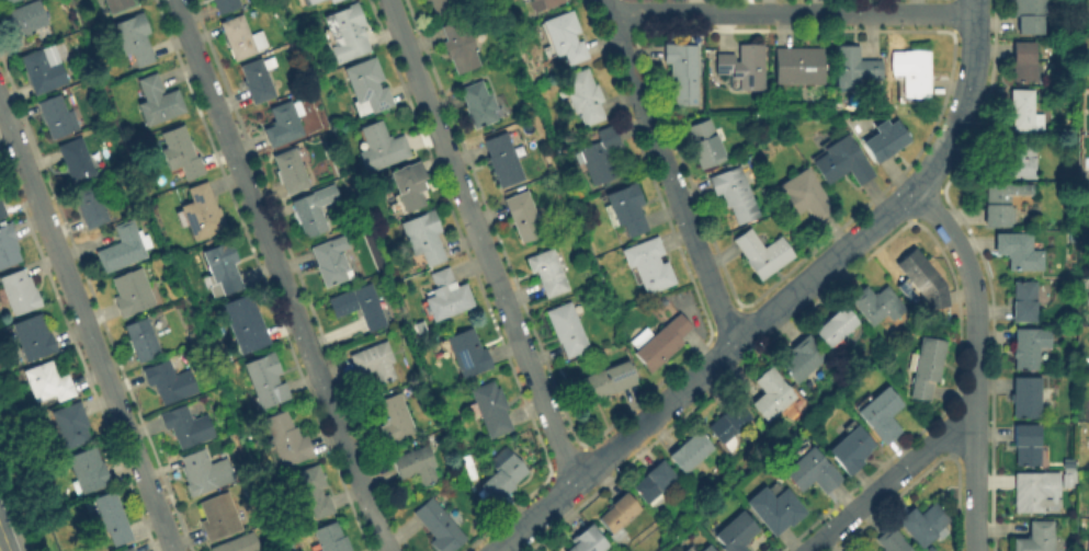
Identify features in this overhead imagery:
building: (333, 1)
building: (5, 2)
building: (307, 2)
building: (117, 5)
building: (225, 5)
building: (543, 5)
building: (442, 8)
road: (790, 12)
building: (1025, 15)
building: (23, 20)
building: (345, 34)
building: (564, 38)
building: (134, 39)
building: (240, 39)
building: (458, 47)
building: (1018, 62)
building: (744, 66)
building: (799, 66)
building: (855, 68)
building: (42, 71)
building: (682, 73)
building: (916, 74)
building: (257, 81)
building: (366, 89)
building: (581, 97)
building: (157, 103)
building: (477, 105)
building: (1019, 113)
building: (55, 119)
building: (282, 124)
building: (886, 141)
building: (705, 145)
building: (381, 148)
building: (180, 154)
building: (599, 156)
building: (1009, 160)
building: (75, 161)
building: (502, 161)
building: (841, 162)
building: (1088, 170)
building: (290, 172)
road: (667, 173)
building: (409, 185)
building: (734, 194)
building: (803, 197)
building: (1002, 205)
building: (89, 207)
building: (311, 210)
building: (625, 210)
building: (2, 211)
building: (200, 215)
building: (522, 218)
building: (423, 238)
road: (480, 240)
building: (7, 248)
building: (122, 249)
building: (1014, 253)
building: (762, 254)
road: (715, 261)
building: (329, 262)
building: (649, 266)
road: (821, 268)
building: (220, 271)
building: (547, 274)
road: (282, 275)
building: (921, 283)
building: (19, 294)
building: (131, 294)
building: (445, 298)
building: (1087, 301)
building: (1019, 303)
building: (875, 306)
building: (359, 307)
road: (88, 323)
building: (243, 324)
building: (836, 328)
building: (566, 331)
building: (32, 338)
building: (140, 341)
building: (662, 344)
building: (1021, 351)
building: (465, 355)
building: (803, 359)
road: (973, 361)
building: (373, 363)
building: (924, 368)
building: (265, 379)
building: (46, 382)
building: (169, 382)
building: (605, 382)
building: (771, 394)
building: (1022, 398)
building: (1087, 404)
building: (489, 410)
building: (881, 415)
building: (393, 420)
building: (730, 424)
building: (69, 427)
building: (184, 427)
building: (286, 440)
building: (1020, 444)
building: (690, 451)
building: (851, 451)
building: (1064, 464)
building: (415, 466)
building: (87, 471)
building: (203, 473)
building: (812, 473)
building: (501, 475)
building: (1065, 480)
road: (891, 482)
building: (653, 483)
building: (308, 492)
building: (1031, 492)
building: (1084, 505)
building: (774, 510)
road: (534, 515)
building: (616, 516)
building: (111, 518)
building: (217, 518)
building: (921, 525)
building: (438, 528)
building: (735, 532)
building: (1030, 537)
building: (328, 539)
building: (587, 540)
building: (888, 541)
building: (1085, 543)
building: (238, 544)
building: (705, 549)
road: (0, 550)
building: (125, 550)
building: (681, 550)
building: (687, 550)

